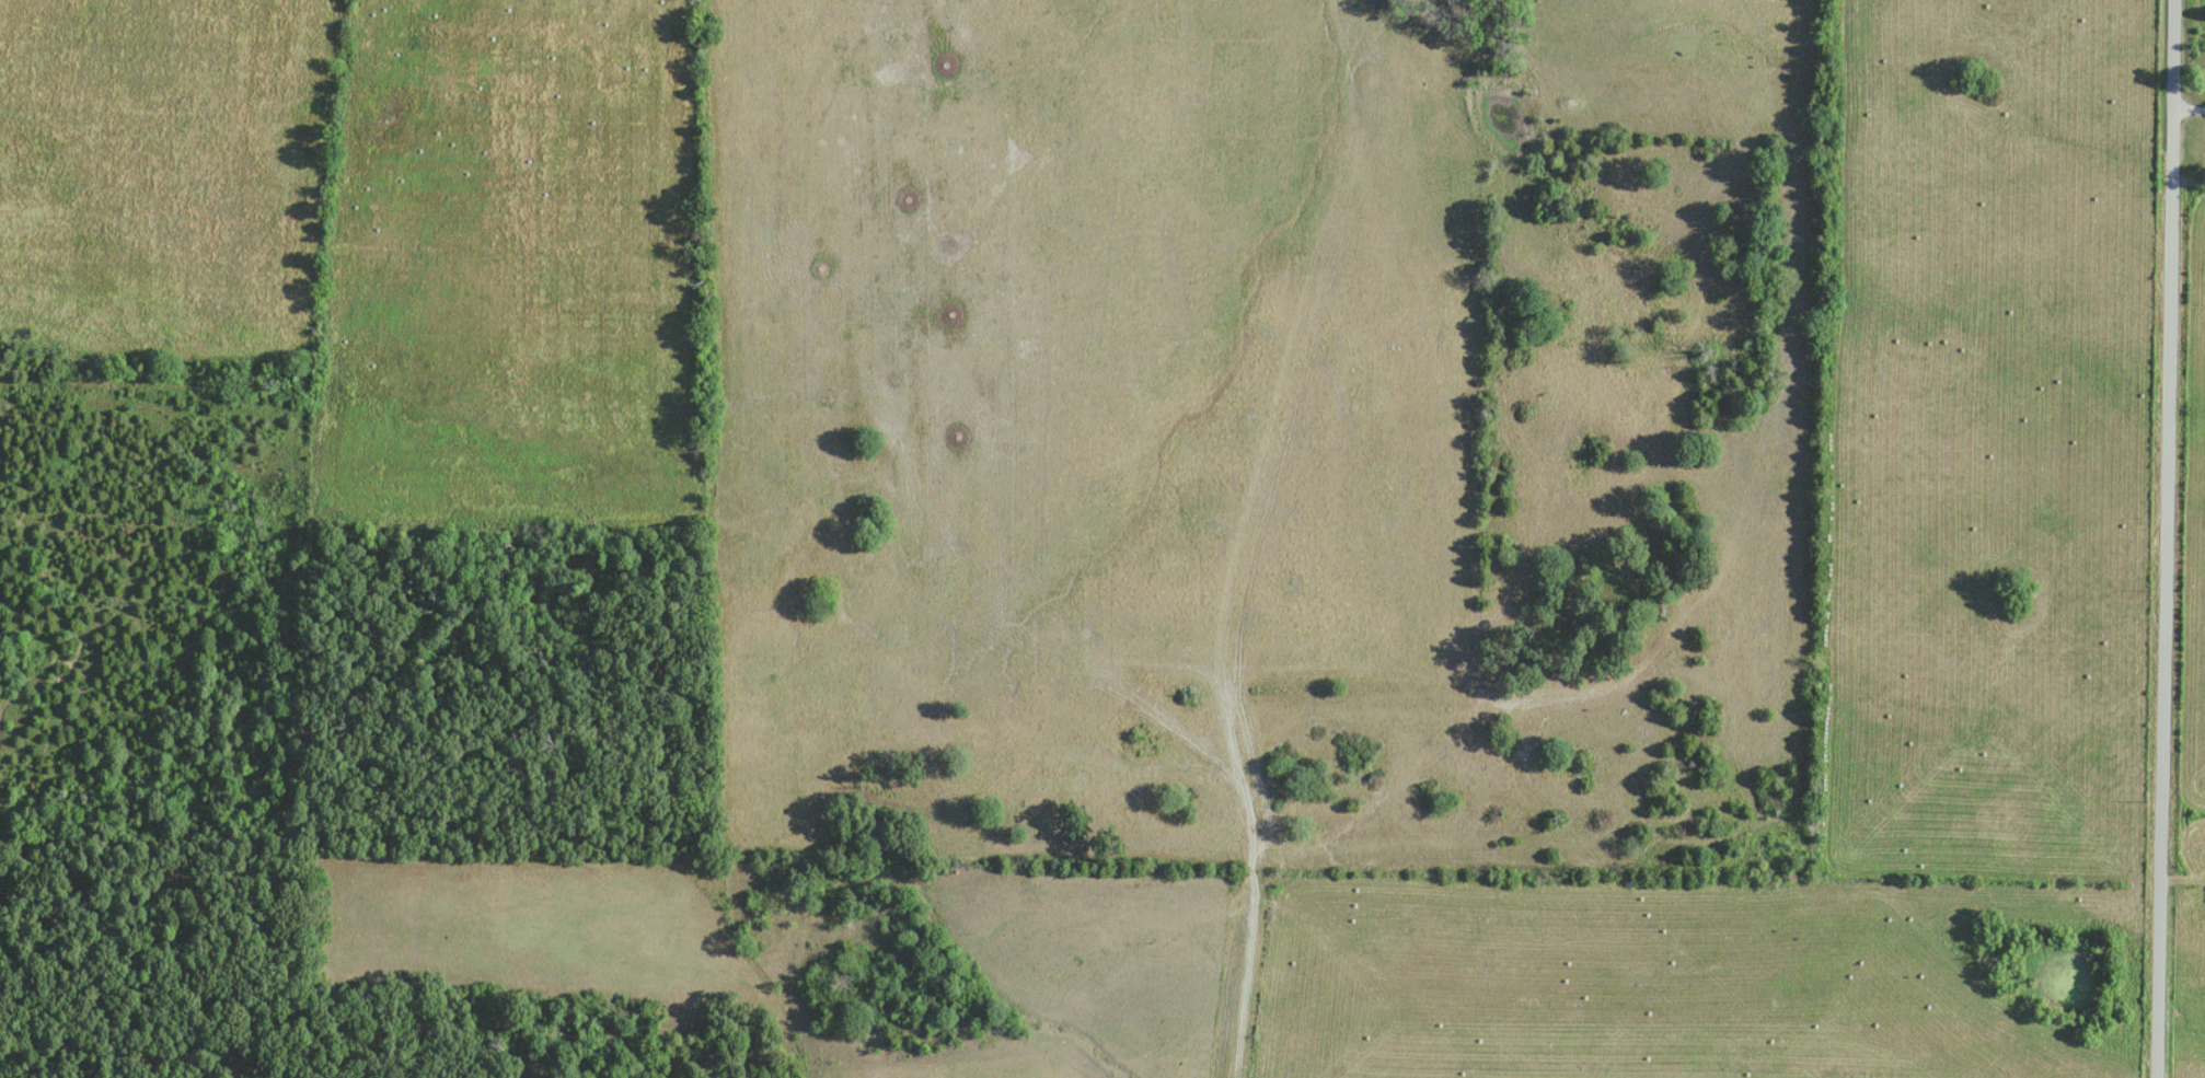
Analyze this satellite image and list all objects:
road: (2189, 105)
road: (2166, 538)

